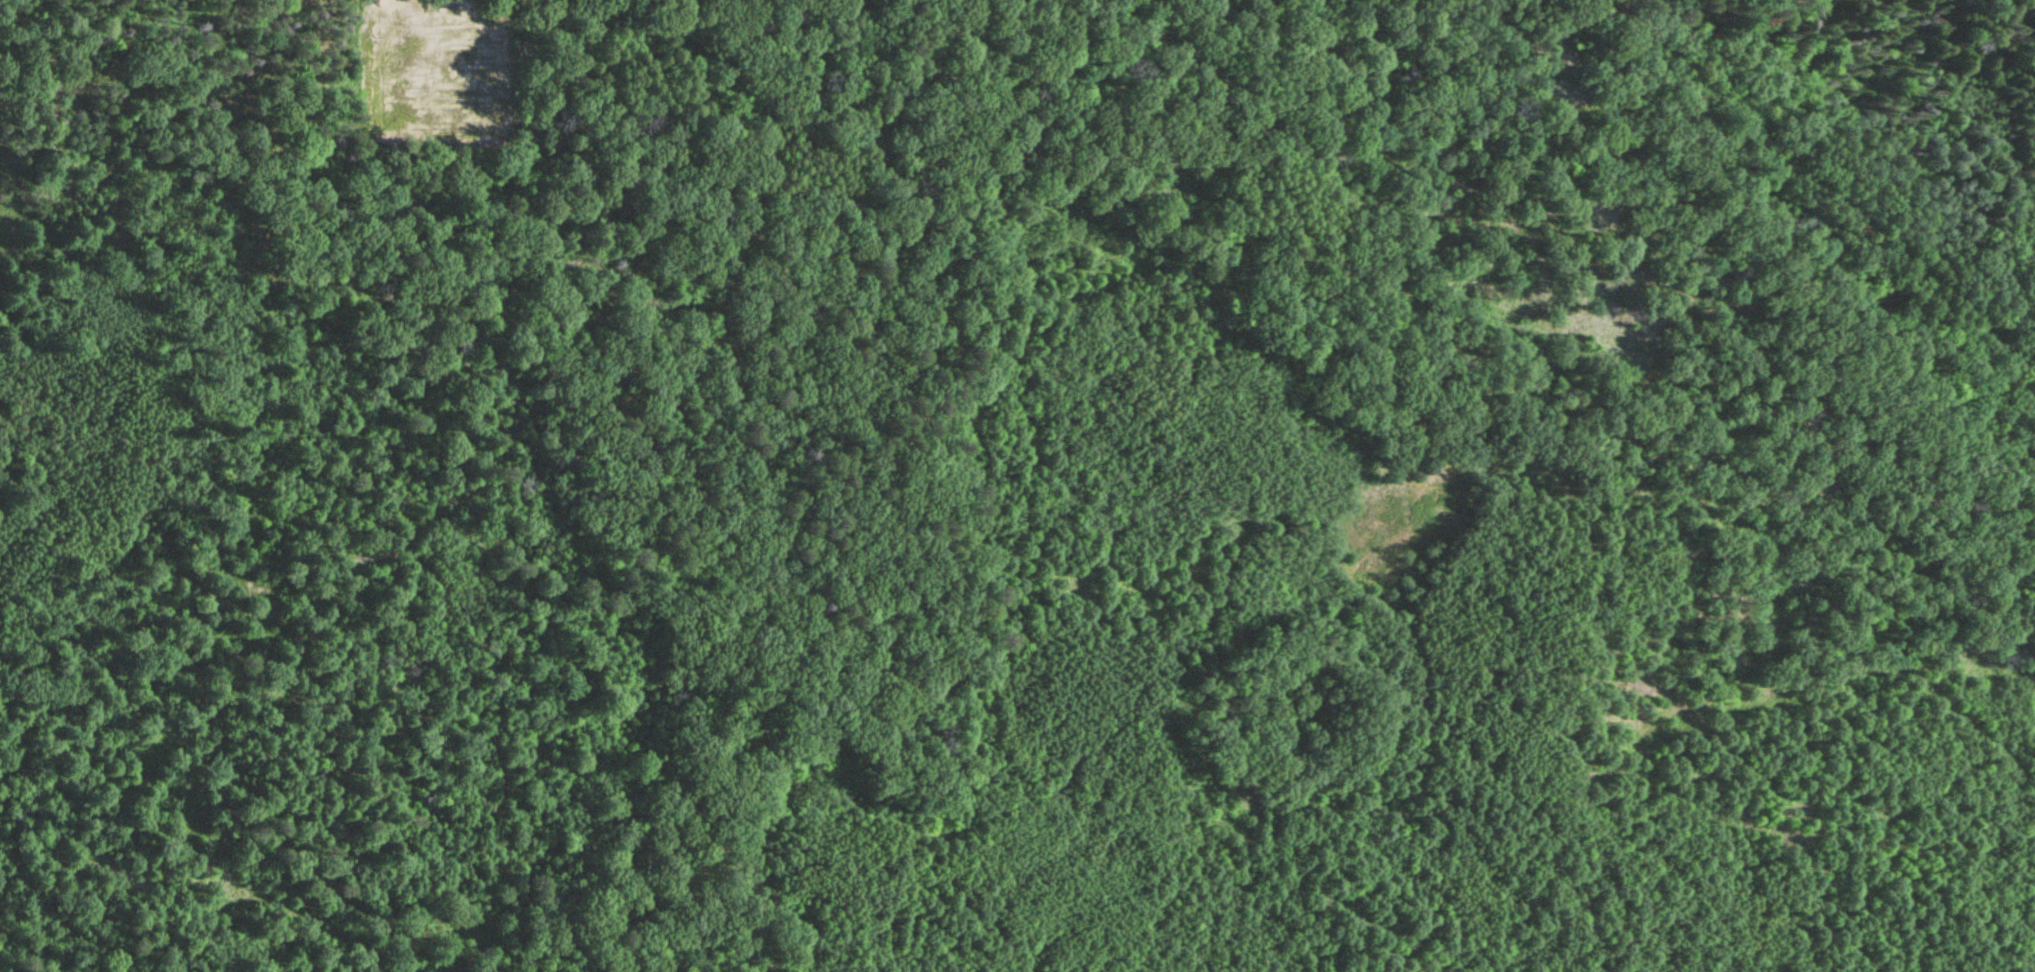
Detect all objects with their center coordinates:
road: (1668, 46)
road: (1713, 46)
road: (1879, 231)

